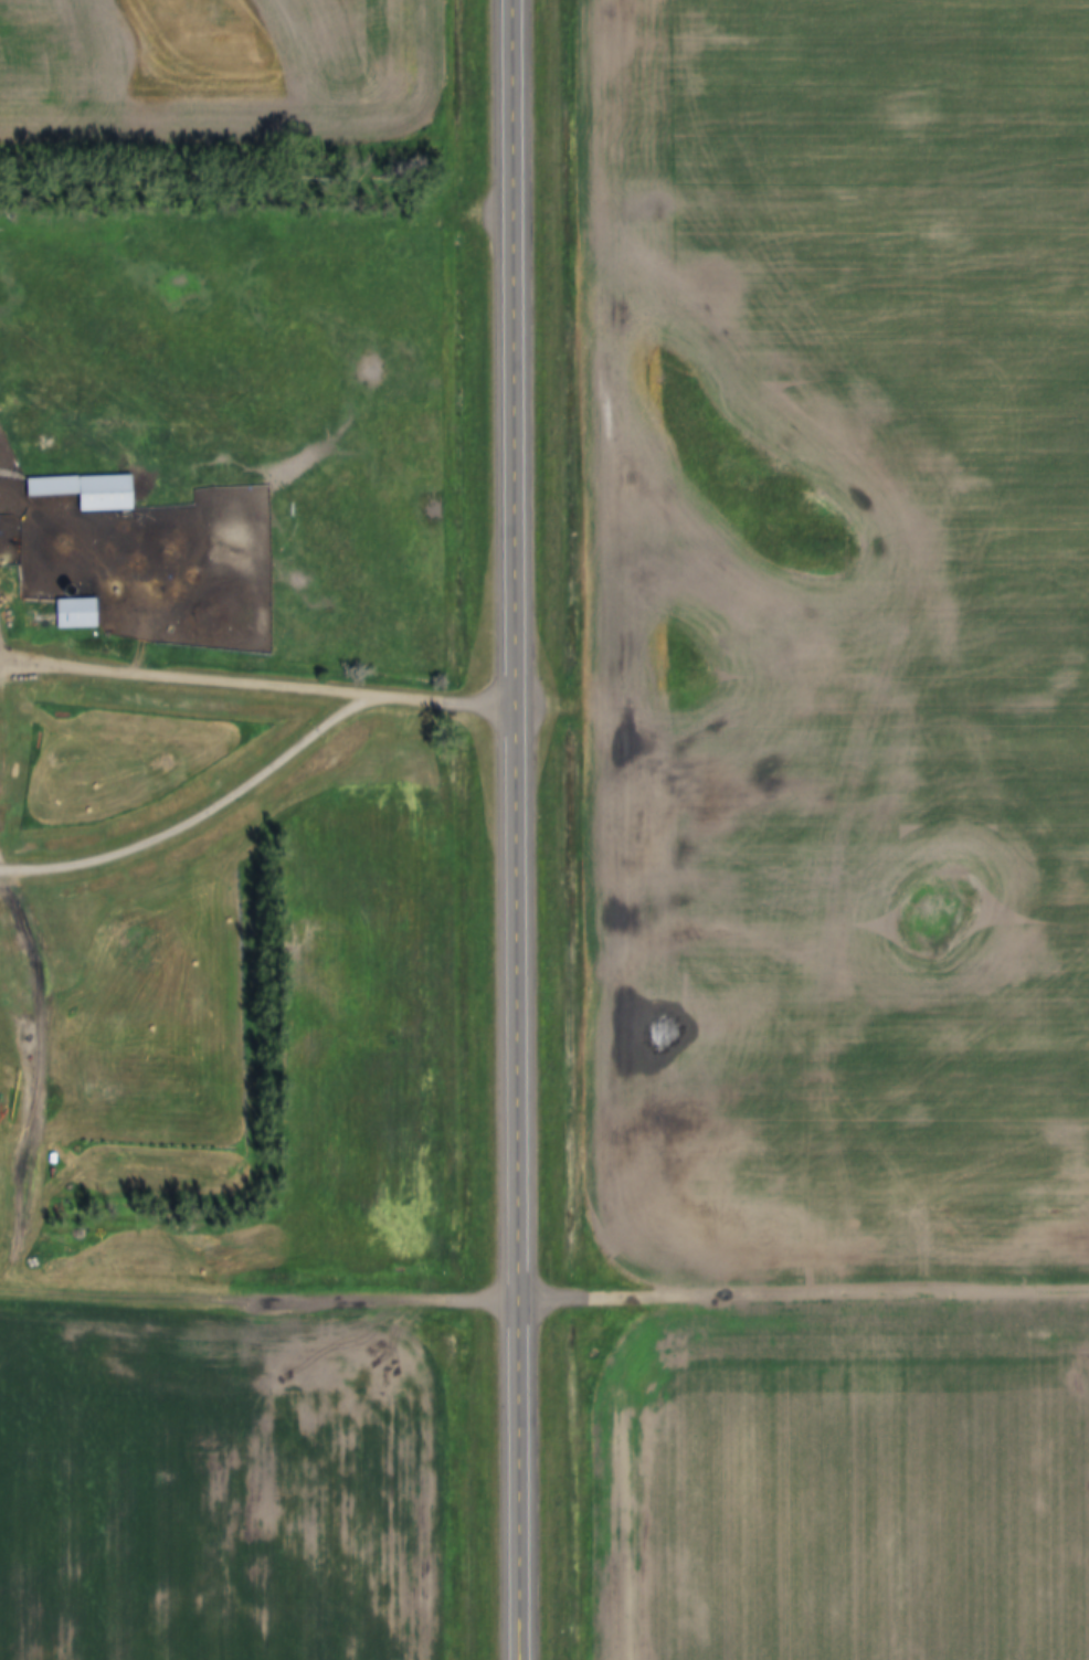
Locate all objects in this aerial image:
building: (93, 491)
building: (81, 614)
road: (184, 676)
road: (453, 699)
road: (199, 813)
road: (533, 829)
road: (40, 1070)
building: (517, 1290)
road: (543, 1294)

